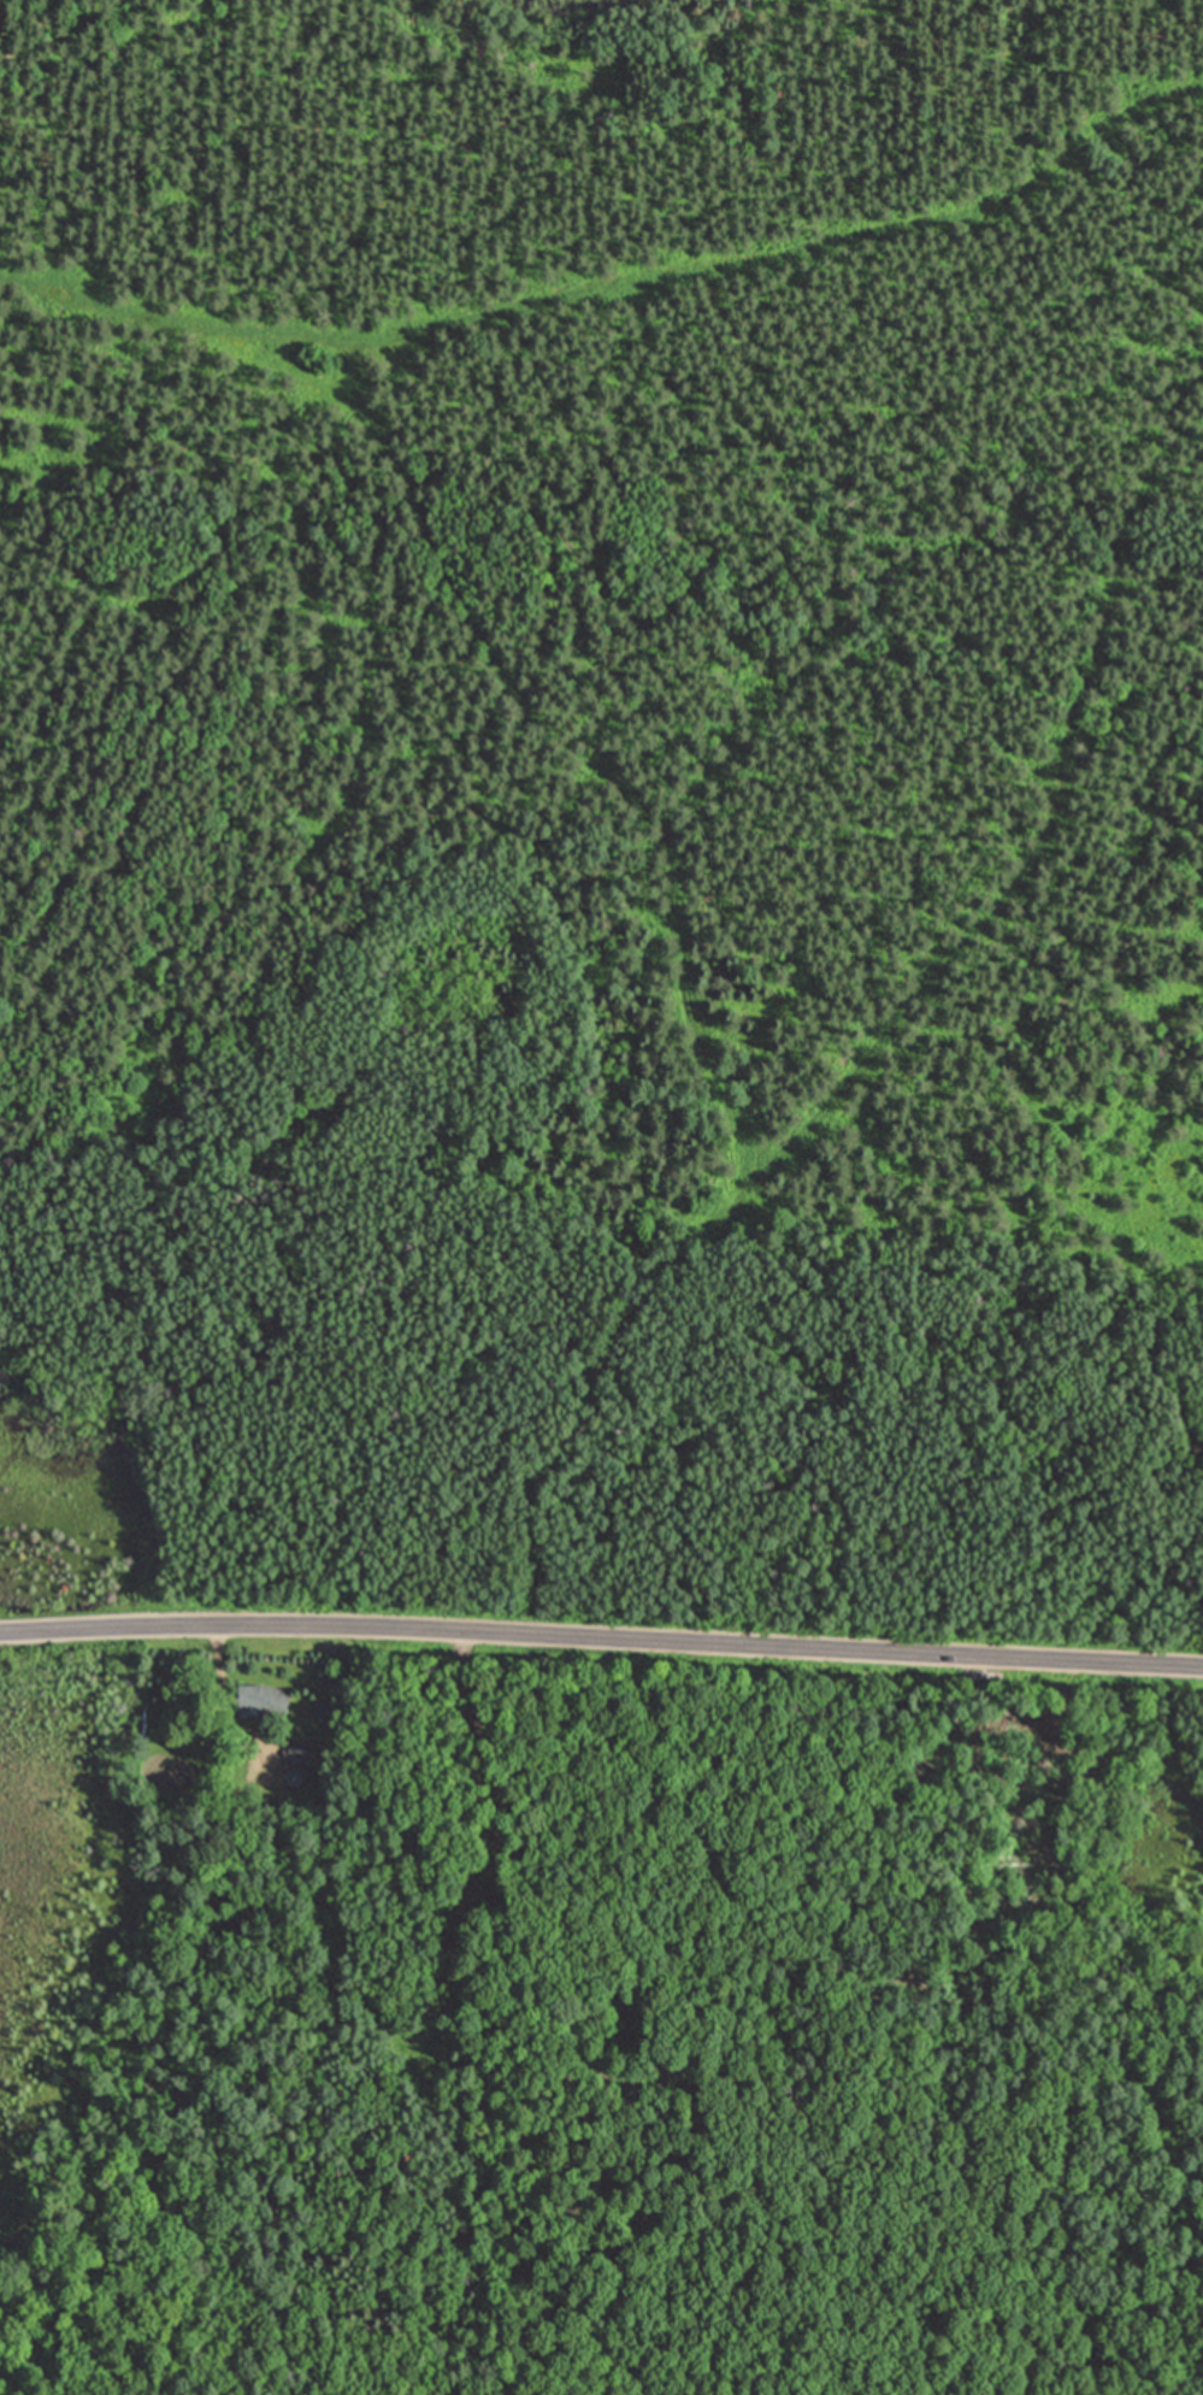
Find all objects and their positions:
road: (619, 283)
road: (601, 1634)
road: (214, 1664)
building: (260, 1700)

